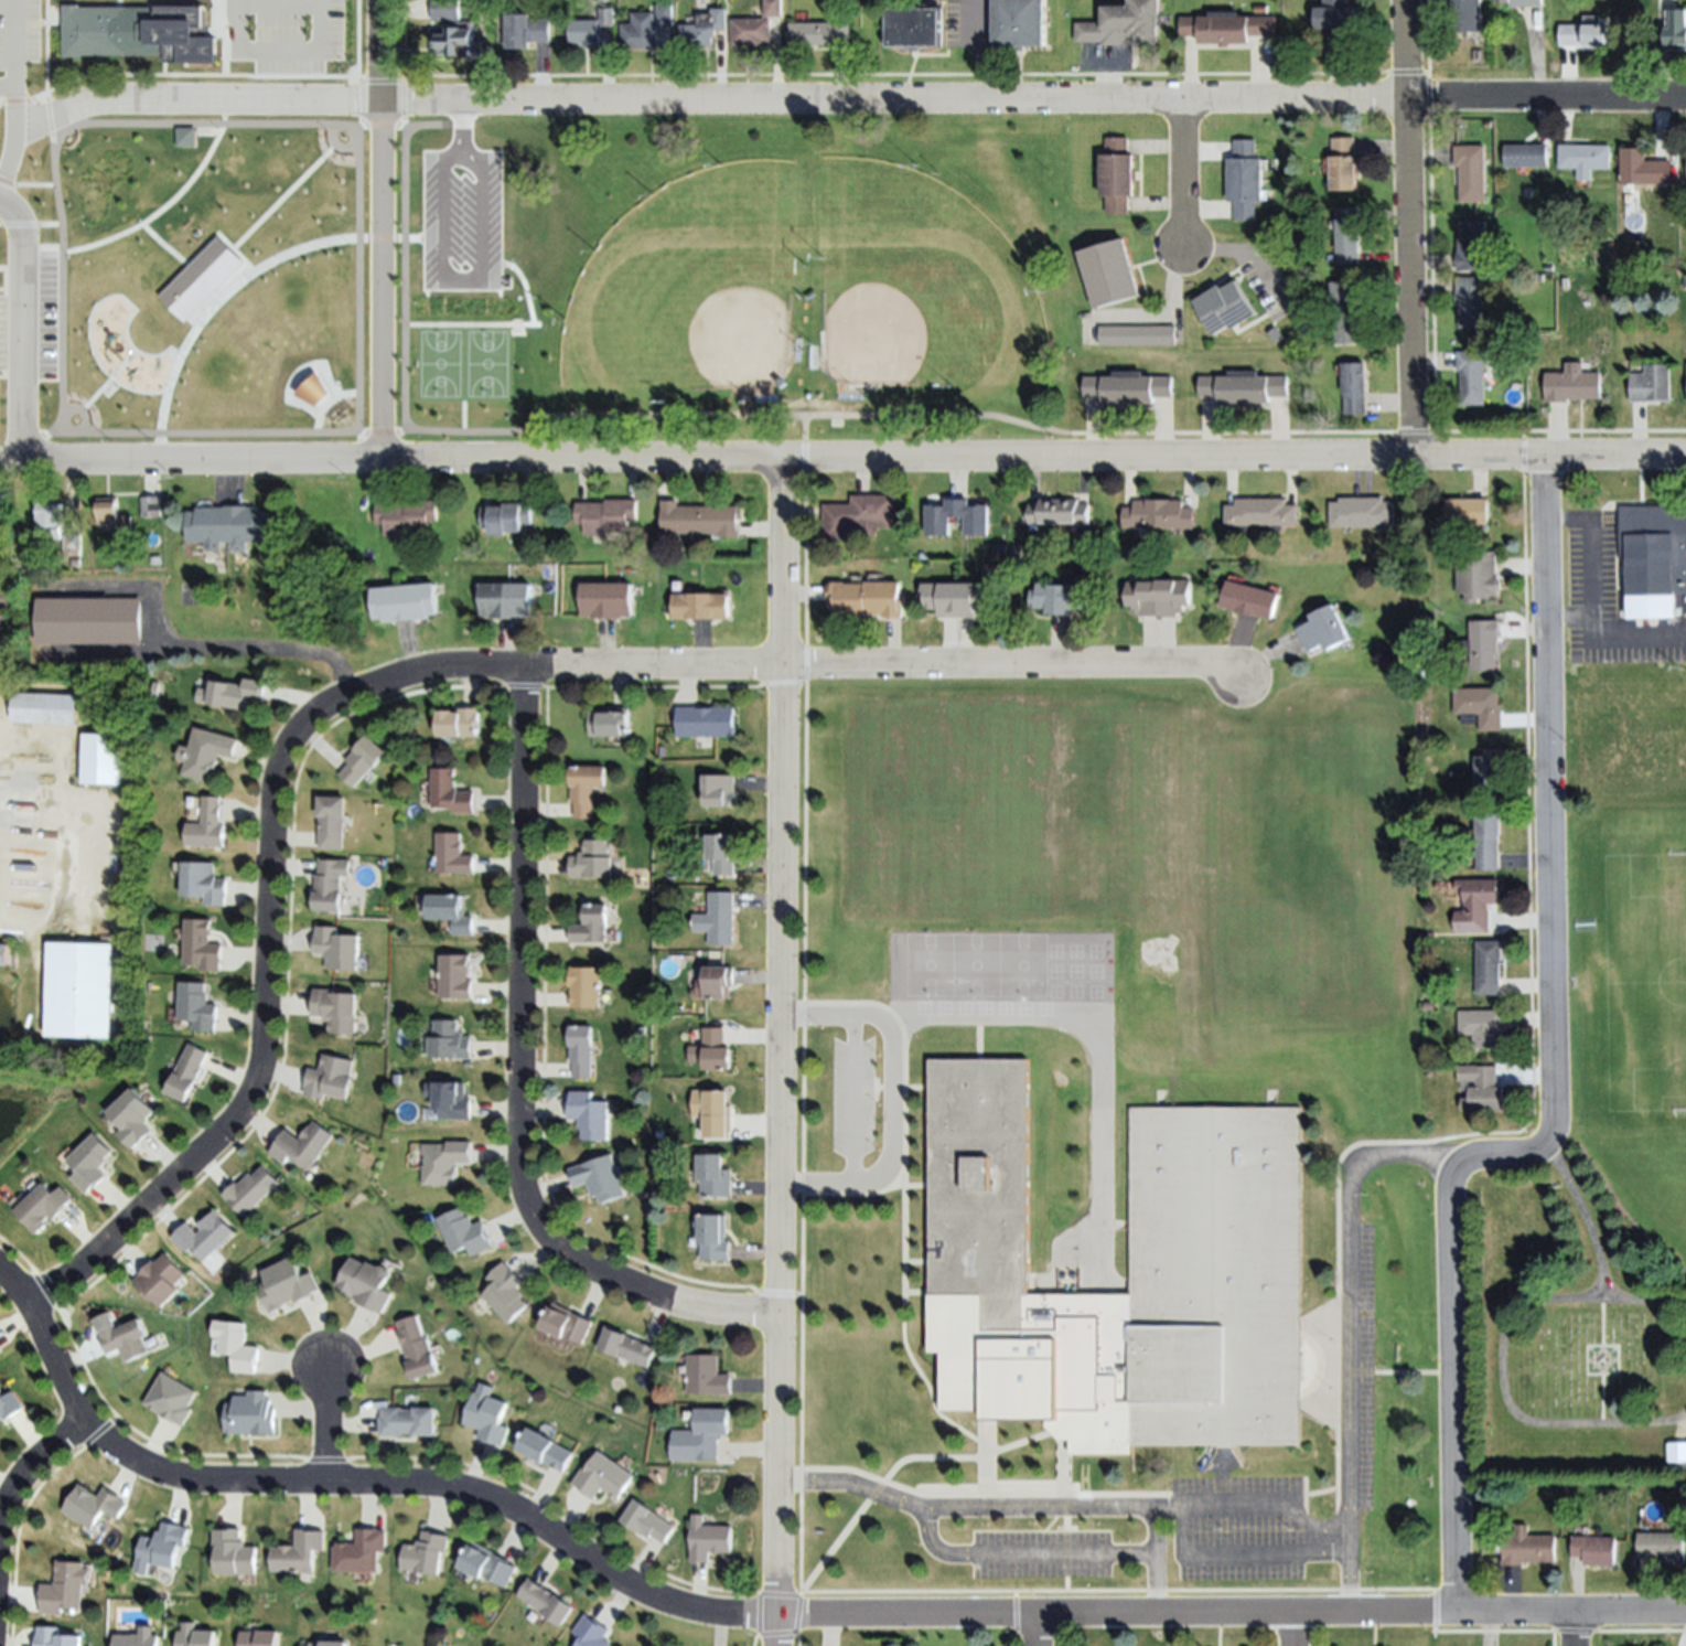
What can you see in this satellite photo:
road: (122, 3)
road: (280, 3)
building: (1523, 3)
building: (173, 6)
building: (219, 7)
building: (333, 7)
building: (772, 8)
building: (1261, 9)
building: (444, 10)
building: (664, 14)
building: (1464, 15)
building: (605, 17)
building: (1338, 21)
building: (1019, 23)
building: (1125, 25)
building: (702, 26)
building: (1227, 26)
building: (915, 28)
building: (525, 30)
building: (1676, 30)
building: (638, 31)
building: (749, 32)
building: (584, 33)
building: (819, 33)
building: (1585, 33)
road: (228, 38)
building: (142, 39)
building: (455, 42)
road: (51, 46)
building: (230, 49)
building: (323, 52)
road: (281, 53)
road: (56, 60)
road: (18, 63)
road: (239, 78)
road: (9, 88)
road: (358, 98)
road: (1034, 99)
road: (24, 100)
road: (198, 101)
road: (2, 104)
road: (249, 118)
road: (49, 120)
road: (459, 129)
building: (186, 137)
building: (1525, 156)
building: (1585, 158)
road: (442, 160)
road: (9, 162)
building: (1345, 164)
building: (1643, 168)
building: (1685, 170)
road: (1179, 171)
building: (1471, 172)
building: (1117, 175)
building: (1246, 180)
road: (22, 188)
building: (164, 190)
road: (286, 194)
road: (153, 205)
road: (15, 218)
road: (1407, 228)
road: (383, 231)
building: (1349, 235)
building: (1472, 246)
road: (161, 249)
building: (1548, 268)
building: (1110, 272)
building: (1685, 281)
building: (216, 282)
park: (555, 282)
building: (1564, 282)
road: (272, 288)
building: (1471, 301)
building: (1225, 307)
building: (1347, 312)
building: (116, 319)
road: (362, 325)
building: (1276, 334)
parking lot: (454, 335)
building: (1137, 335)
road: (195, 346)
building: (1179, 348)
road: (24, 351)
road: (264, 374)
building: (1472, 377)
building: (1651, 383)
building: (1572, 384)
building: (1244, 386)
building: (1685, 386)
building: (1127, 387)
building: (1354, 388)
road: (89, 395)
road: (329, 402)
building: (445, 406)
road: (425, 430)
road: (842, 459)
building: (150, 505)
building: (1468, 511)
building: (1057, 512)
building: (109, 513)
building: (1362, 513)
building: (1260, 514)
building: (606, 515)
building: (1157, 515)
building: (405, 516)
building: (858, 516)
building: (51, 517)
building: (505, 519)
building: (698, 520)
building: (228, 525)
building: (937, 525)
building: (72, 545)
building: (1652, 560)
building: (1479, 577)
building: (232, 578)
building: (1057, 597)
building: (866, 598)
building: (956, 598)
building: (1159, 598)
building: (1247, 599)
building: (506, 600)
building: (606, 600)
building: (405, 602)
road: (1591, 603)
parking lot: (1610, 605)
building: (701, 606)
road: (1568, 618)
building: (90, 626)
building: (1322, 629)
building: (3, 635)
building: (1483, 644)
road: (257, 652)
road: (423, 672)
building: (236, 694)
building: (1480, 707)
building: (43, 709)
building: (705, 722)
building: (460, 723)
building: (610, 724)
building: (206, 753)
building: (103, 759)
building: (363, 761)
building: (1489, 776)
building: (587, 788)
building: (719, 789)
building: (451, 793)
road: (12, 795)
building: (332, 822)
building: (207, 825)
building: (1489, 841)
building: (663, 847)
building: (452, 854)
building: (721, 854)
building: (592, 861)
building: (204, 883)
building: (331, 883)
building: (1443, 888)
building: (1478, 905)
building: (451, 912)
building: (718, 919)
building: (592, 926)
building: (202, 944)
building: (337, 947)
building: (3, 954)
building: (1490, 966)
building: (457, 976)
building: (719, 982)
building: (586, 988)
building: (78, 990)
building: (1429, 993)
building: (198, 1004)
building: (1430, 1006)
building: (336, 1011)
building: (1483, 1027)
building: (450, 1041)
building: (717, 1049)
building: (582, 1050)
road: (778, 1052)
road: (1551, 1071)
building: (187, 1072)
building: (331, 1077)
road: (519, 1079)
building: (1483, 1089)
road: (891, 1099)
building: (451, 1100)
road: (855, 1101)
building: (715, 1110)
building: (590, 1114)
building: (132, 1116)
building: (301, 1145)
building: (1105, 1151)
building: (89, 1162)
building: (445, 1163)
building: (715, 1176)
building: (600, 1178)
building: (254, 1189)
building: (43, 1206)
road: (1587, 1212)
building: (466, 1232)
building: (204, 1236)
building: (713, 1238)
building: (162, 1279)
building: (290, 1284)
building: (369, 1284)
building: (506, 1293)
building: (570, 1324)
park: (1560, 1330)
road: (1347, 1332)
building: (126, 1338)
building: (238, 1345)
building: (627, 1347)
building: (419, 1348)
road: (1505, 1364)
building: (1600, 1364)
building: (707, 1375)
building: (173, 1398)
building: (10, 1404)
building: (254, 1414)
building: (490, 1415)
building: (409, 1421)
road: (329, 1426)
building: (702, 1433)
building: (548, 1451)
building: (1683, 1453)
road: (31, 1468)
building: (604, 1478)
building: (94, 1506)
road: (1070, 1510)
building: (649, 1522)
parking lot: (1129, 1533)
building: (709, 1539)
building: (165, 1546)
building: (1661, 1547)
building: (1528, 1548)
building: (1594, 1550)
building: (363, 1551)
building: (235, 1552)
building: (300, 1552)
building: (429, 1553)
road: (1045, 1558)
road: (1224, 1564)
building: (488, 1565)
road: (1153, 1586)
building: (63, 1591)
building: (547, 1602)
road: (773, 1614)
road: (1293, 1629)
road: (1577, 1629)
road: (1039, 1631)
building: (592, 1633)
road: (1643, 1633)
building: (197, 1636)
building: (57, 1637)
building: (260, 1638)
building: (138, 1640)
building: (330, 1644)

